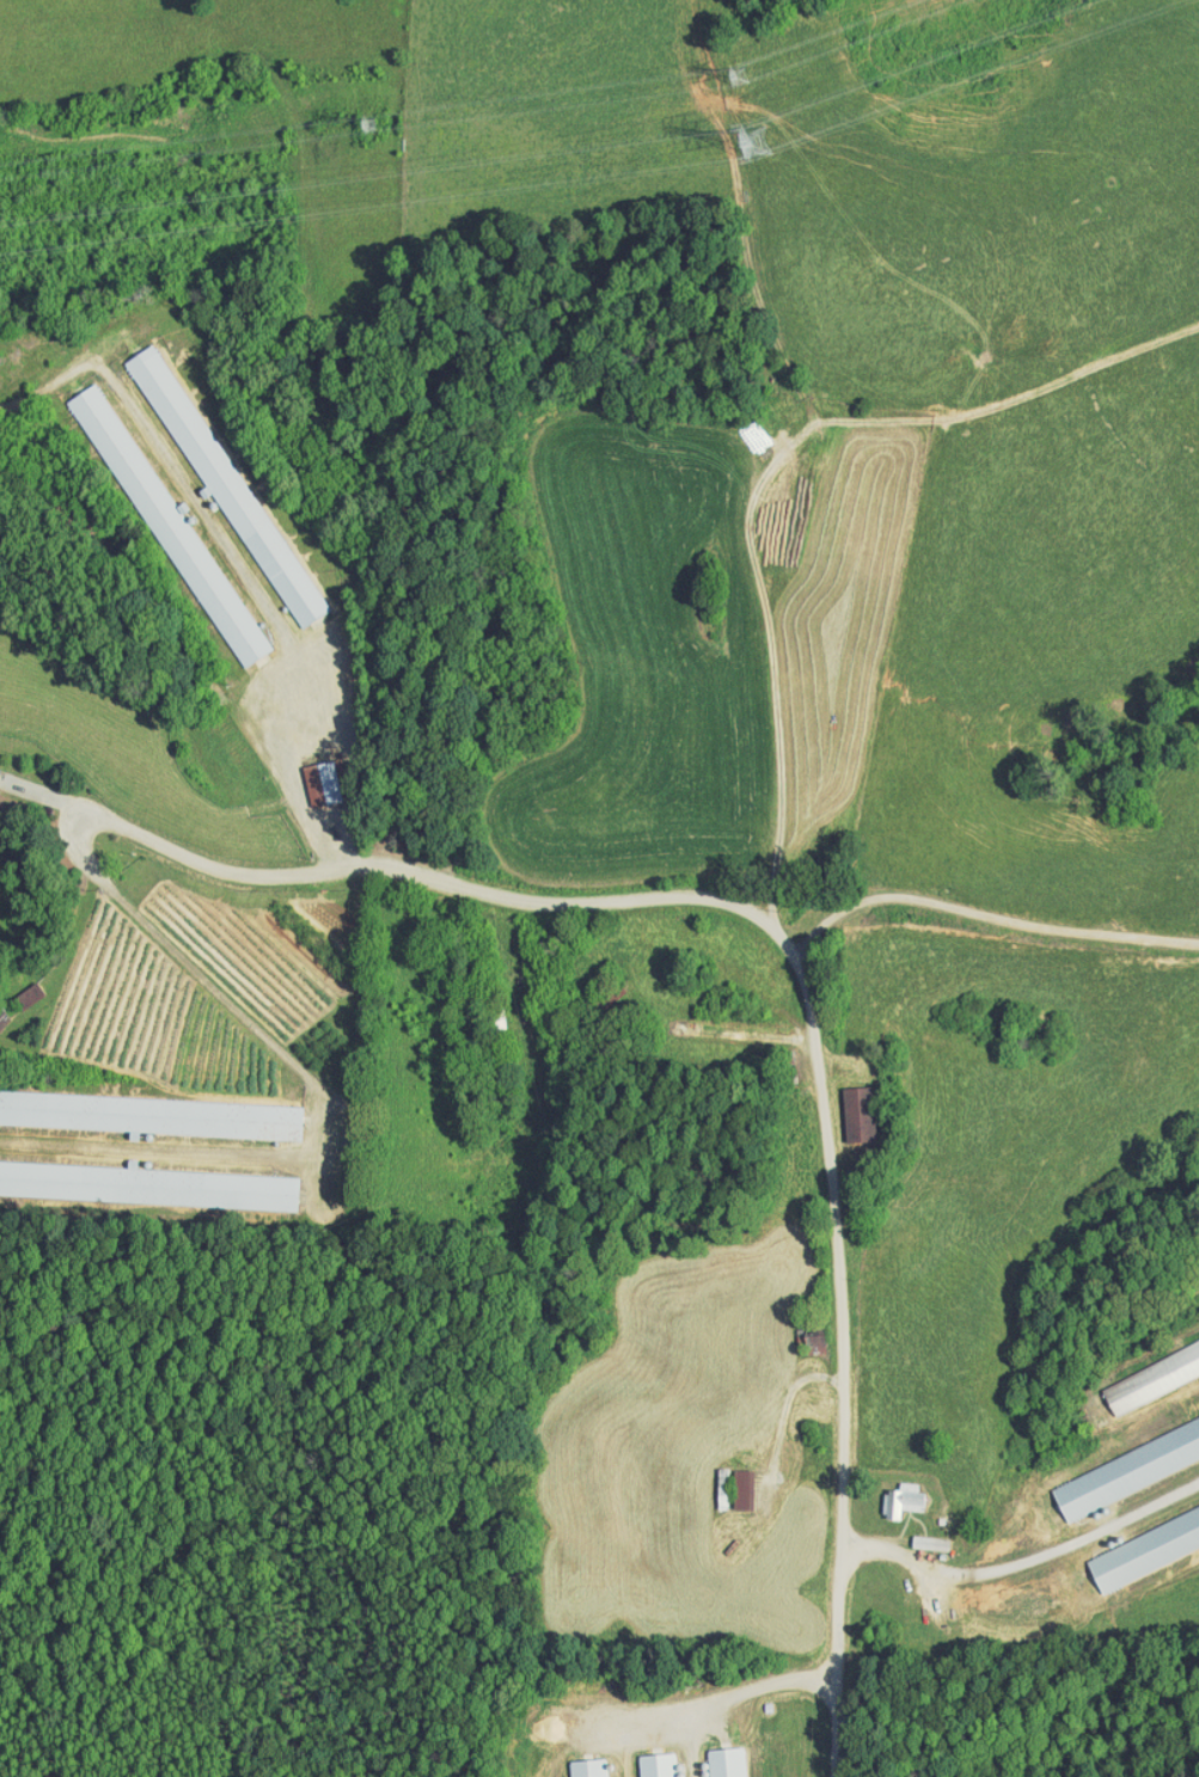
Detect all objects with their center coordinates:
power tower: (735, 78)
power tower: (363, 124)
power tower: (752, 139)
building: (212, 477)
building: (161, 525)
road: (204, 859)
road: (748, 912)
building: (840, 1105)
building: (147, 1108)
building: (142, 1178)
road: (839, 1367)
building: (1118, 1456)
building: (728, 1481)
building: (889, 1491)
building: (1136, 1534)
building: (914, 1536)
road: (975, 1573)
road: (709, 1708)
building: (714, 1758)
building: (644, 1761)
building: (575, 1764)

